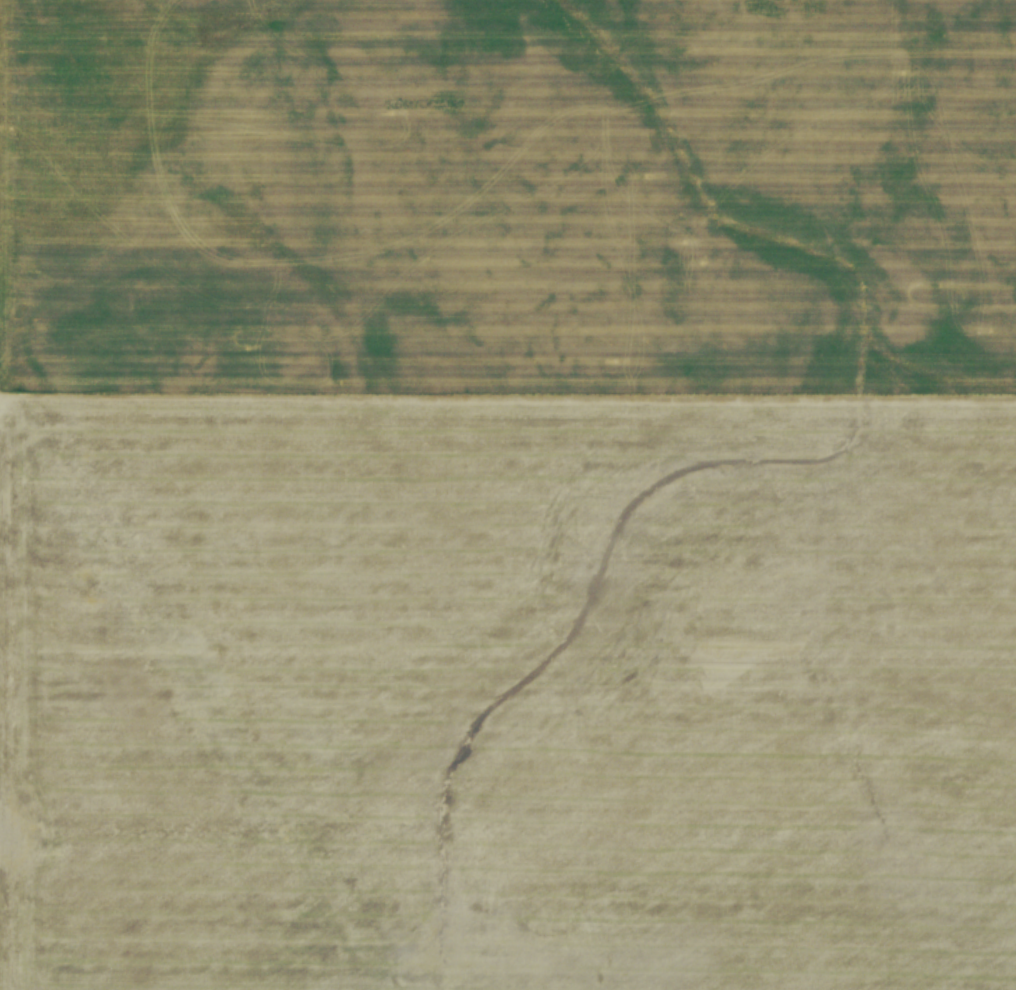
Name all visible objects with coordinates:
crop: (508, 407)

